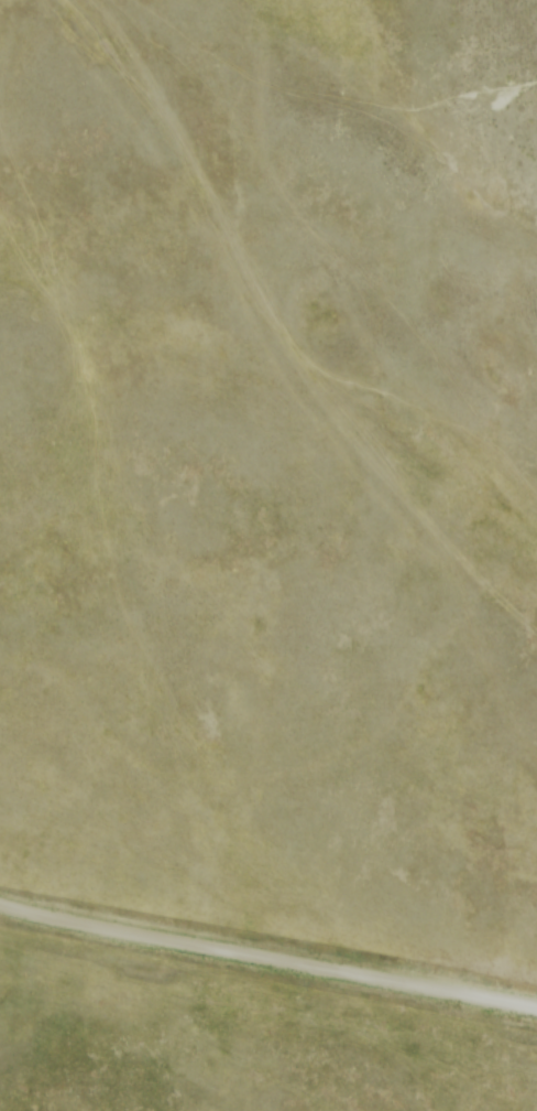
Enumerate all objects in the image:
road: (268, 952)

